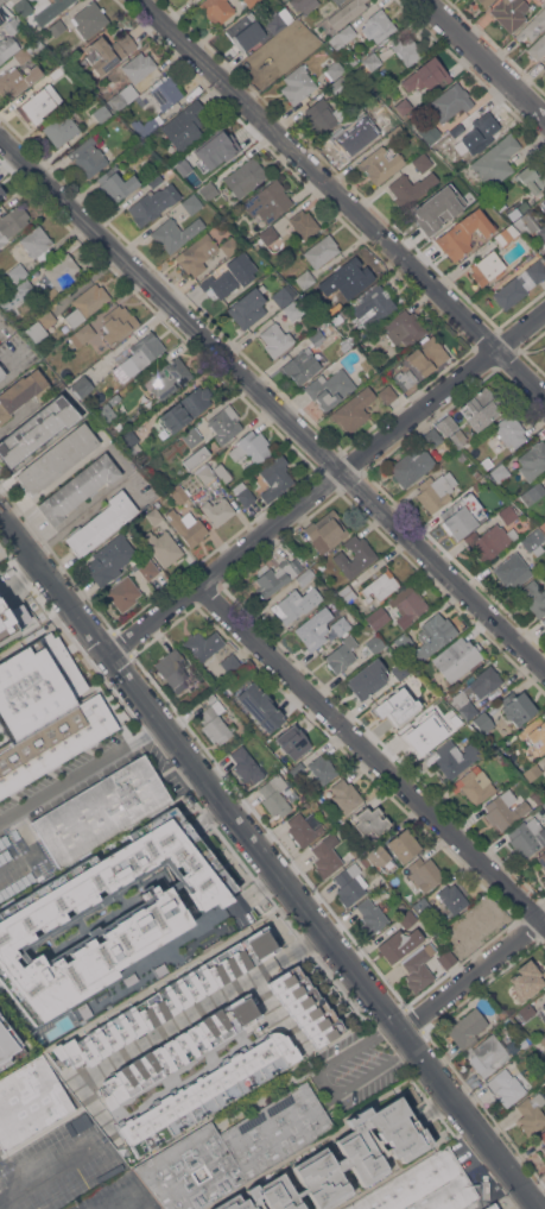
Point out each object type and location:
building: (337, 1)
building: (251, 2)
building: (484, 2)
building: (62, 4)
building: (304, 5)
building: (23, 7)
building: (217, 10)
building: (511, 12)
building: (344, 14)
building: (89, 19)
building: (279, 20)
building: (12, 25)
building: (379, 25)
building: (533, 26)
building: (57, 27)
building: (246, 32)
building: (342, 37)
building: (308, 44)
building: (8, 46)
building: (538, 48)
building: (30, 50)
building: (108, 52)
building: (394, 52)
building: (272, 53)
building: (296, 55)
road: (489, 56)
building: (351, 61)
building: (81, 63)
building: (139, 65)
building: (332, 67)
building: (544, 67)
building: (51, 74)
building: (427, 75)
building: (18, 80)
building: (341, 83)
building: (298, 84)
building: (165, 90)
building: (122, 96)
building: (451, 101)
building: (39, 103)
building: (373, 103)
building: (404, 106)
building: (102, 113)
building: (327, 114)
building: (185, 125)
building: (145, 126)
building: (62, 128)
building: (455, 130)
building: (480, 132)
building: (351, 136)
building: (432, 136)
building: (224, 144)
building: (88, 157)
building: (451, 160)
building: (496, 160)
building: (424, 162)
building: (381, 163)
building: (246, 176)
building: (533, 176)
building: (156, 181)
building: (201, 181)
building: (116, 183)
building: (410, 189)
building: (209, 190)
building: (1, 196)
building: (544, 196)
road: (342, 199)
building: (268, 201)
building: (153, 203)
building: (192, 203)
building: (519, 210)
building: (429, 216)
building: (12, 221)
building: (304, 223)
building: (531, 225)
building: (175, 233)
building: (464, 233)
building: (267, 234)
building: (507, 234)
building: (36, 241)
building: (230, 245)
building: (544, 245)
building: (248, 247)
building: (322, 250)
building: (197, 254)
building: (487, 267)
building: (537, 270)
building: (62, 271)
building: (18, 272)
building: (303, 277)
building: (354, 277)
building: (222, 282)
building: (511, 291)
building: (17, 294)
building: (281, 296)
building: (87, 303)
building: (373, 306)
building: (248, 308)
building: (292, 309)
building: (42, 325)
building: (118, 325)
building: (404, 327)
building: (82, 334)
building: (277, 339)
building: (350, 340)
building: (544, 346)
road: (521, 351)
building: (141, 354)
building: (427, 355)
building: (308, 357)
road: (17, 370)
building: (2, 371)
building: (166, 376)
building: (405, 378)
building: (82, 385)
building: (330, 388)
building: (21, 392)
building: (387, 393)
building: (115, 399)
road: (272, 404)
building: (185, 408)
building: (481, 408)
building: (354, 409)
building: (106, 413)
building: (224, 423)
building: (448, 424)
building: (37, 429)
building: (511, 429)
building: (192, 436)
building: (433, 436)
building: (460, 437)
building: (131, 442)
building: (251, 447)
building: (196, 456)
building: (58, 458)
building: (533, 460)
building: (411, 466)
building: (499, 471)
building: (222, 472)
building: (204, 473)
building: (275, 477)
road: (56, 480)
road: (329, 484)
building: (78, 487)
building: (436, 490)
building: (179, 493)
building: (243, 493)
building: (533, 493)
building: (217, 510)
building: (461, 514)
building: (509, 514)
building: (154, 516)
building: (101, 523)
building: (186, 525)
building: (327, 530)
building: (490, 541)
building: (534, 541)
building: (163, 547)
building: (355, 555)
building: (112, 559)
building: (150, 569)
building: (513, 569)
building: (278, 575)
building: (304, 577)
building: (380, 586)
building: (123, 592)
building: (348, 593)
building: (534, 597)
building: (408, 605)
building: (291, 606)
building: (378, 617)
building: (544, 621)
building: (341, 625)
building: (5, 626)
building: (315, 628)
road: (38, 630)
building: (435, 631)
building: (403, 642)
building: (374, 643)
building: (203, 644)
building: (342, 654)
building: (457, 659)
building: (230, 662)
building: (176, 670)
building: (401, 670)
building: (368, 678)
building: (37, 685)
building: (476, 689)
building: (399, 701)
building: (436, 703)
building: (260, 705)
building: (518, 706)
building: (215, 719)
building: (483, 722)
building: (426, 733)
building: (536, 733)
building: (53, 743)
building: (293, 744)
road: (373, 751)
building: (452, 757)
building: (247, 764)
building: (298, 768)
building: (322, 768)
road: (81, 769)
building: (532, 772)
building: (474, 785)
building: (275, 793)
building: (287, 793)
building: (346, 795)
building: (544, 805)
building: (505, 810)
building: (101, 811)
building: (370, 821)
building: (304, 827)
building: (527, 836)
road: (30, 844)
building: (404, 844)
building: (355, 850)
building: (327, 855)
building: (375, 855)
road: (268, 858)
building: (541, 858)
building: (424, 873)
building: (350, 883)
building: (380, 888)
building: (454, 898)
building: (423, 906)
building: (153, 914)
building: (372, 917)
building: (408, 918)
road: (205, 920)
building: (471, 928)
building: (399, 944)
building: (446, 961)
building: (419, 966)
road: (471, 970)
building: (526, 982)
building: (167, 999)
building: (305, 1006)
building: (544, 1006)
road: (202, 1009)
road: (277, 1010)
building: (527, 1010)
building: (502, 1016)
building: (544, 1018)
building: (507, 1024)
building: (468, 1028)
building: (543, 1040)
building: (522, 1043)
building: (5, 1045)
building: (179, 1049)
building: (487, 1054)
road: (322, 1085)
building: (508, 1087)
building: (208, 1091)
building: (30, 1101)
building: (532, 1113)
building: (543, 1135)
building: (543, 1150)
building: (233, 1151)
building: (342, 1161)
road: (47, 1169)
building: (425, 1186)
road: (133, 1205)
building: (493, 1207)
building: (160, 1208)

